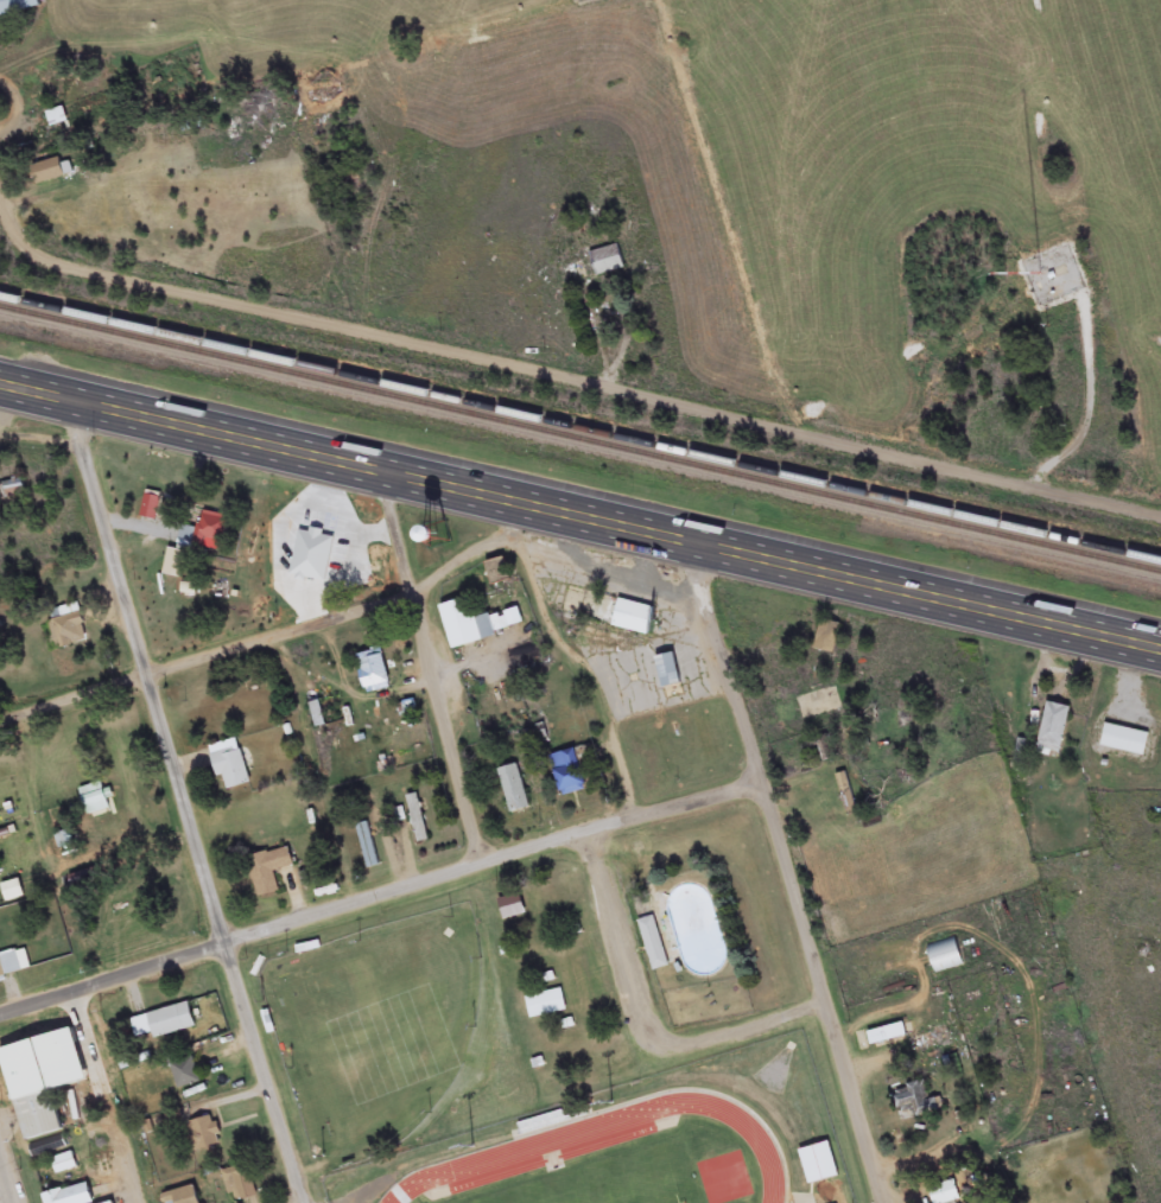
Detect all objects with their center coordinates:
building: (18, 6)
building: (47, 172)
road: (20, 227)
building: (607, 261)
road: (603, 382)
railway: (580, 429)
railway: (580, 443)
road: (43, 451)
building: (11, 490)
building: (146, 507)
road: (579, 517)
building: (205, 533)
building: (431, 534)
building: (497, 573)
building: (633, 615)
building: (476, 624)
building: (66, 628)
building: (826, 637)
road: (210, 661)
road: (438, 671)
building: (667, 671)
building: (373, 673)
building: (1053, 730)
building: (1124, 741)
building: (229, 769)
building: (569, 774)
building: (513, 790)
building: (95, 800)
road: (185, 802)
building: (417, 820)
building: (368, 847)
building: (269, 871)
road: (792, 871)
road: (383, 909)
building: (510, 909)
building: (654, 944)
building: (703, 949)
building: (945, 957)
building: (13, 963)
building: (546, 1005)
building: (163, 1024)
building: (887, 1036)
building: (937, 1040)
building: (185, 1074)
building: (31, 1101)
building: (915, 1102)
building: (202, 1128)
building: (546, 1144)
building: (64, 1165)
building: (797, 1172)
road: (6, 1179)
building: (240, 1185)
building: (944, 1194)
building: (70, 1196)
building: (180, 1197)

